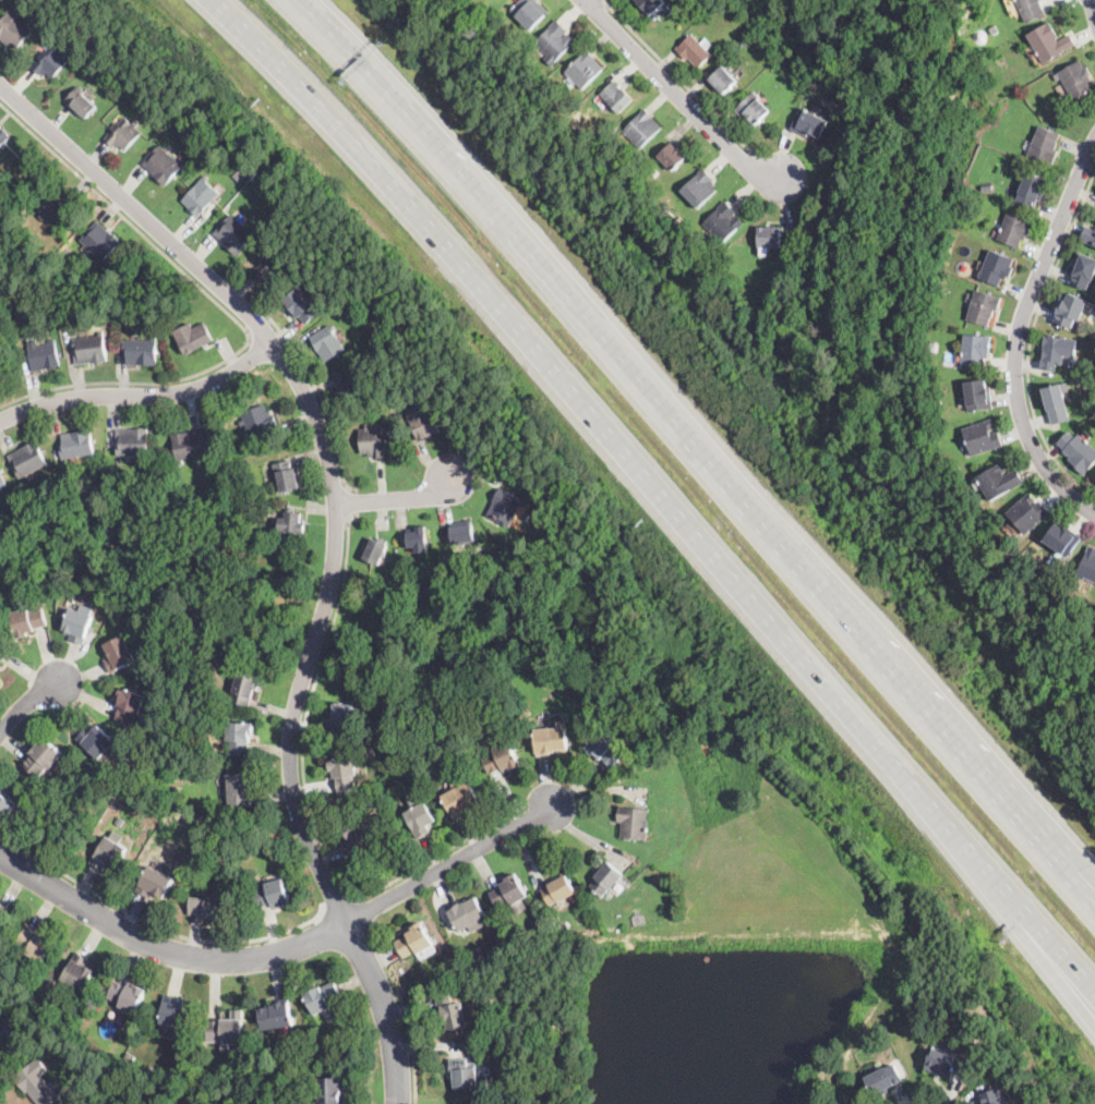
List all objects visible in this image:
building: (721, 3)
building: (651, 5)
road: (1093, 5)
building: (1032, 10)
building: (530, 12)
building: (13, 31)
building: (977, 35)
building: (556, 43)
building: (1049, 43)
building: (694, 51)
building: (51, 62)
building: (1002, 62)
building: (585, 70)
road: (679, 78)
building: (723, 80)
building: (1075, 80)
road: (676, 93)
building: (617, 97)
building: (82, 102)
building: (754, 110)
building: (809, 123)
building: (642, 129)
building: (123, 133)
building: (3, 136)
building: (1045, 145)
building: (200, 148)
building: (672, 157)
building: (164, 165)
building: (988, 185)
building: (700, 189)
building: (1033, 190)
building: (202, 196)
building: (57, 208)
building: (724, 223)
building: (1015, 229)
building: (234, 234)
building: (1088, 235)
building: (770, 236)
building: (100, 241)
building: (57, 260)
building: (997, 268)
building: (270, 269)
building: (1083, 270)
building: (301, 305)
road: (224, 306)
building: (984, 307)
building: (1071, 310)
road: (255, 320)
road: (1018, 333)
building: (193, 337)
road: (1031, 341)
building: (329, 342)
building: (934, 347)
building: (92, 350)
building: (976, 350)
building: (142, 351)
building: (1058, 351)
building: (44, 355)
building: (347, 384)
road: (141, 395)
road: (321, 396)
building: (978, 396)
building: (939, 403)
building: (1057, 404)
building: (260, 420)
building: (423, 421)
building: (983, 438)
building: (373, 441)
building: (133, 442)
building: (77, 444)
building: (191, 445)
road: (702, 446)
road: (322, 447)
building: (1079, 452)
building: (28, 459)
building: (287, 475)
building: (2, 482)
building: (999, 482)
road: (659, 488)
road: (353, 498)
road: (397, 498)
building: (506, 506)
building: (1028, 513)
building: (527, 514)
building: (293, 522)
building: (141, 527)
building: (464, 533)
building: (418, 539)
building: (1063, 539)
building: (374, 550)
building: (1087, 566)
building: (108, 593)
building: (388, 607)
building: (28, 621)
building: (80, 623)
building: (2, 648)
building: (120, 654)
building: (0, 658)
building: (1, 662)
building: (244, 688)
road: (24, 702)
building: (130, 705)
building: (344, 719)
building: (504, 735)
building: (240, 738)
building: (97, 741)
building: (552, 741)
building: (606, 750)
building: (43, 755)
building: (502, 759)
building: (345, 773)
building: (240, 785)
road: (308, 797)
building: (462, 798)
building: (9, 799)
building: (421, 817)
building: (635, 823)
building: (357, 836)
building: (109, 854)
road: (446, 861)
road: (1073, 875)
building: (609, 881)
building: (155, 883)
building: (559, 889)
building: (509, 893)
building: (273, 894)
building: (612, 897)
road: (337, 905)
road: (366, 907)
building: (210, 908)
building: (3, 913)
building: (470, 915)
building: (638, 919)
road: (152, 921)
building: (416, 941)
building: (36, 945)
road: (163, 948)
road: (1052, 956)
building: (77, 974)
building: (52, 975)
building: (128, 996)
building: (324, 997)
building: (32, 1005)
road: (405, 1006)
road: (385, 1008)
building: (453, 1011)
building: (176, 1012)
building: (277, 1015)
building: (11, 1018)
building: (227, 1030)
building: (0, 1042)
building: (131, 1057)
building: (948, 1064)
building: (467, 1073)
building: (883, 1080)
building: (37, 1085)
building: (330, 1091)
building: (992, 1097)
building: (456, 1103)
building: (859, 1103)

